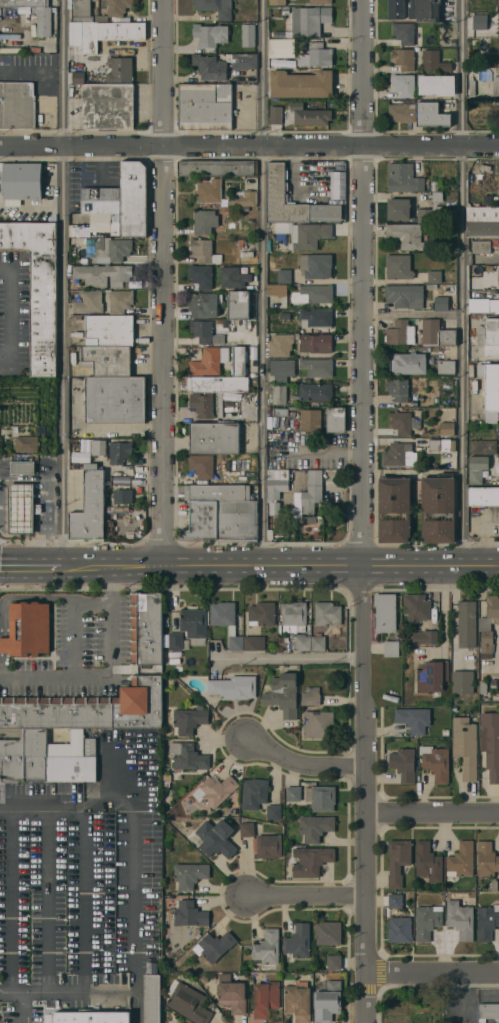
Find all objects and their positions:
building: (96, 0)
building: (277, 2)
building: (321, 2)
building: (24, 3)
building: (215, 7)
building: (118, 8)
building: (396, 9)
building: (424, 10)
building: (83, 11)
building: (43, 20)
building: (309, 20)
building: (482, 23)
building: (102, 33)
building: (404, 33)
building: (204, 34)
building: (248, 35)
building: (282, 47)
building: (316, 55)
building: (404, 58)
building: (244, 61)
building: (433, 61)
building: (209, 67)
building: (120, 69)
road: (364, 73)
road: (163, 74)
building: (78, 78)
building: (301, 84)
building: (437, 84)
building: (403, 85)
building: (482, 87)
building: (16, 105)
building: (107, 106)
building: (205, 106)
building: (401, 112)
building: (275, 115)
building: (309, 115)
building: (431, 115)
road: (249, 148)
building: (218, 168)
building: (404, 178)
building: (21, 180)
building: (338, 184)
building: (209, 191)
building: (282, 197)
building: (243, 199)
building: (122, 200)
building: (399, 209)
building: (432, 210)
building: (325, 211)
building: (204, 221)
building: (482, 222)
building: (305, 234)
building: (406, 235)
building: (481, 246)
building: (111, 250)
building: (204, 251)
building: (248, 254)
building: (316, 265)
building: (398, 267)
building: (104, 274)
building: (201, 275)
building: (284, 276)
building: (434, 276)
building: (233, 277)
building: (498, 277)
road: (65, 282)
road: (264, 282)
road: (462, 282)
building: (38, 288)
building: (277, 289)
building: (314, 294)
building: (404, 295)
building: (120, 301)
building: (89, 302)
building: (441, 303)
building: (203, 304)
building: (238, 305)
building: (483, 305)
road: (9, 312)
road: (413, 314)
building: (317, 317)
building: (109, 330)
building: (401, 331)
building: (205, 332)
building: (488, 332)
building: (437, 333)
building: (316, 343)
building: (280, 344)
building: (491, 351)
road: (165, 356)
building: (107, 360)
building: (209, 361)
building: (239, 361)
building: (408, 363)
building: (446, 366)
building: (318, 367)
building: (282, 370)
building: (218, 384)
building: (398, 389)
building: (489, 389)
building: (277, 392)
building: (315, 392)
building: (114, 399)
building: (202, 404)
building: (220, 405)
building: (336, 419)
building: (310, 420)
building: (226, 421)
building: (401, 422)
building: (447, 428)
building: (214, 438)
building: (27, 444)
building: (440, 445)
building: (103, 446)
building: (483, 446)
building: (120, 452)
building: (399, 454)
building: (85, 455)
building: (202, 465)
building: (497, 465)
building: (92, 466)
building: (23, 467)
building: (477, 468)
building: (121, 480)
building: (277, 483)
building: (312, 491)
building: (122, 496)
building: (483, 496)
building: (21, 508)
building: (90, 508)
building: (438, 508)
building: (394, 509)
building: (229, 510)
building: (202, 520)
building: (310, 520)
road: (484, 539)
road: (249, 564)
road: (365, 585)
building: (417, 607)
building: (385, 612)
building: (262, 614)
building: (327, 614)
building: (294, 616)
building: (226, 621)
building: (489, 623)
building: (467, 624)
building: (194, 626)
building: (28, 630)
building: (146, 630)
building: (425, 637)
building: (280, 640)
building: (175, 641)
building: (301, 642)
building: (336, 642)
building: (255, 643)
building: (318, 643)
building: (186, 645)
building: (280, 648)
building: (390, 648)
road: (292, 658)
road: (107, 673)
building: (433, 676)
building: (462, 682)
building: (233, 687)
building: (283, 693)
building: (310, 695)
building: (88, 709)
building: (414, 719)
building: (188, 721)
building: (318, 724)
building: (445, 732)
building: (490, 744)
building: (465, 746)
building: (188, 756)
building: (48, 758)
building: (436, 762)
road: (303, 764)
building: (403, 764)
building: (166, 779)
building: (215, 790)
building: (254, 793)
building: (293, 793)
building: (235, 796)
building: (321, 797)
road: (133, 799)
building: (235, 803)
road: (47, 805)
road: (7, 806)
building: (234, 811)
building: (274, 812)
road: (433, 813)
building: (315, 827)
building: (247, 828)
building: (216, 838)
building: (269, 846)
building: (486, 859)
building: (461, 860)
building: (312, 861)
building: (398, 861)
building: (428, 861)
building: (190, 874)
building: (494, 885)
road: (308, 896)
road: (13, 901)
road: (46, 901)
road: (83, 901)
road: (136, 901)
building: (396, 903)
building: (386, 912)
building: (190, 914)
building: (460, 919)
building: (427, 921)
building: (487, 922)
building: (400, 929)
building: (329, 933)
building: (198, 936)
building: (298, 940)
building: (215, 946)
building: (266, 948)
building: (334, 962)
road: (433, 974)
building: (203, 978)
building: (251, 981)
building: (232, 994)
road: (1, 995)
road: (12, 996)
road: (93, 997)
building: (266, 998)
building: (152, 999)
building: (188, 1002)
building: (328, 1002)
building: (298, 1003)
road: (2, 1009)
road: (23, 1009)
building: (488, 1011)
building: (87, 1017)

